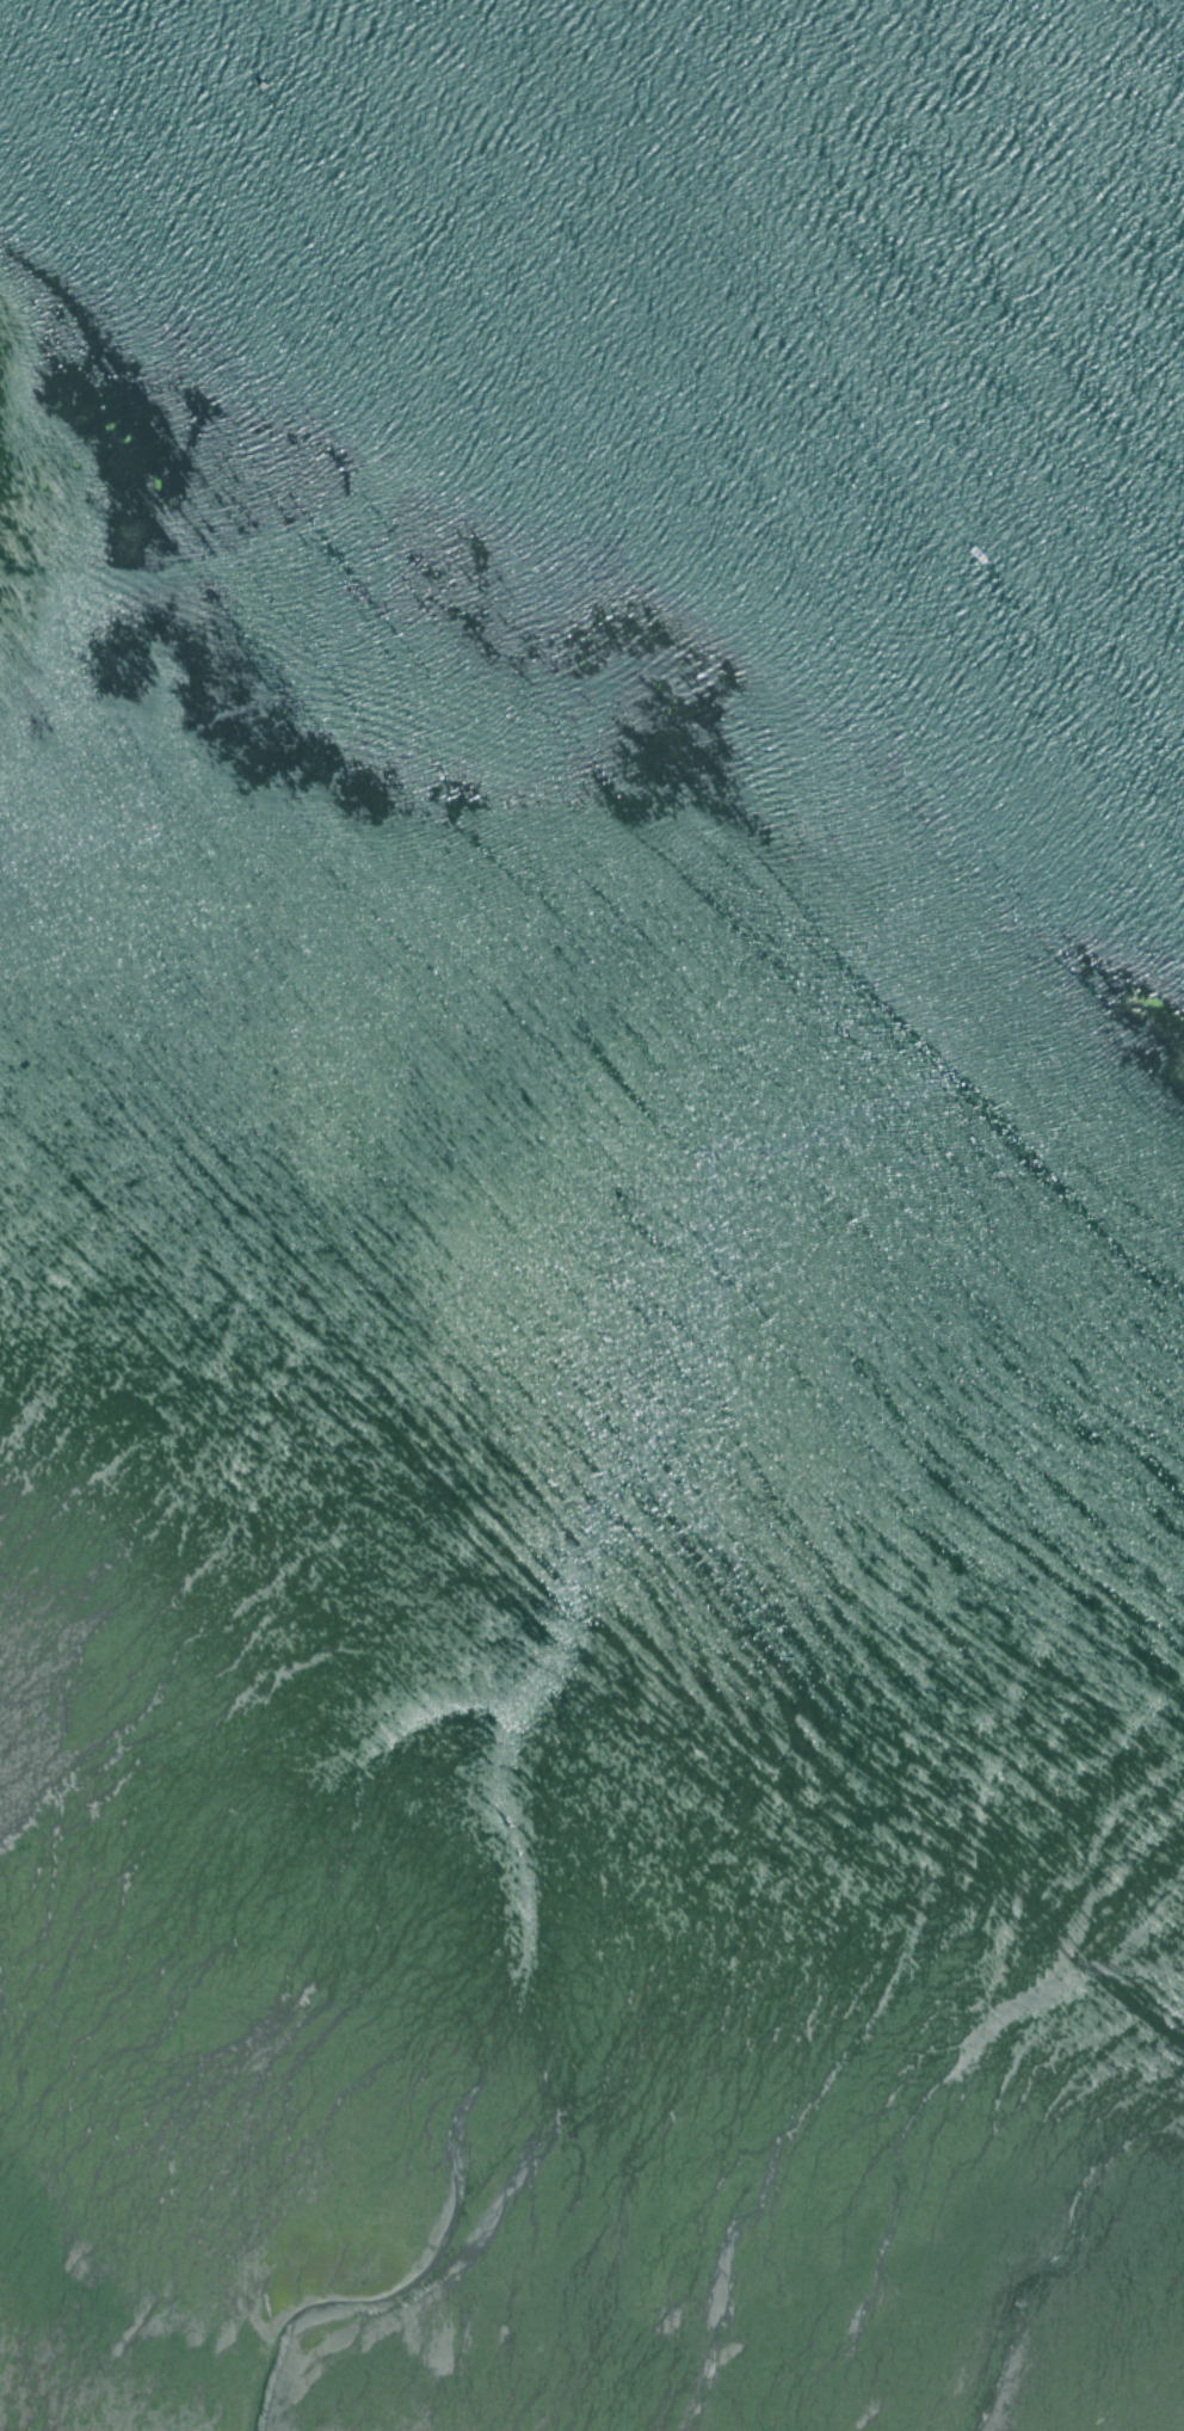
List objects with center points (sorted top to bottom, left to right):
river: (978, 140)

